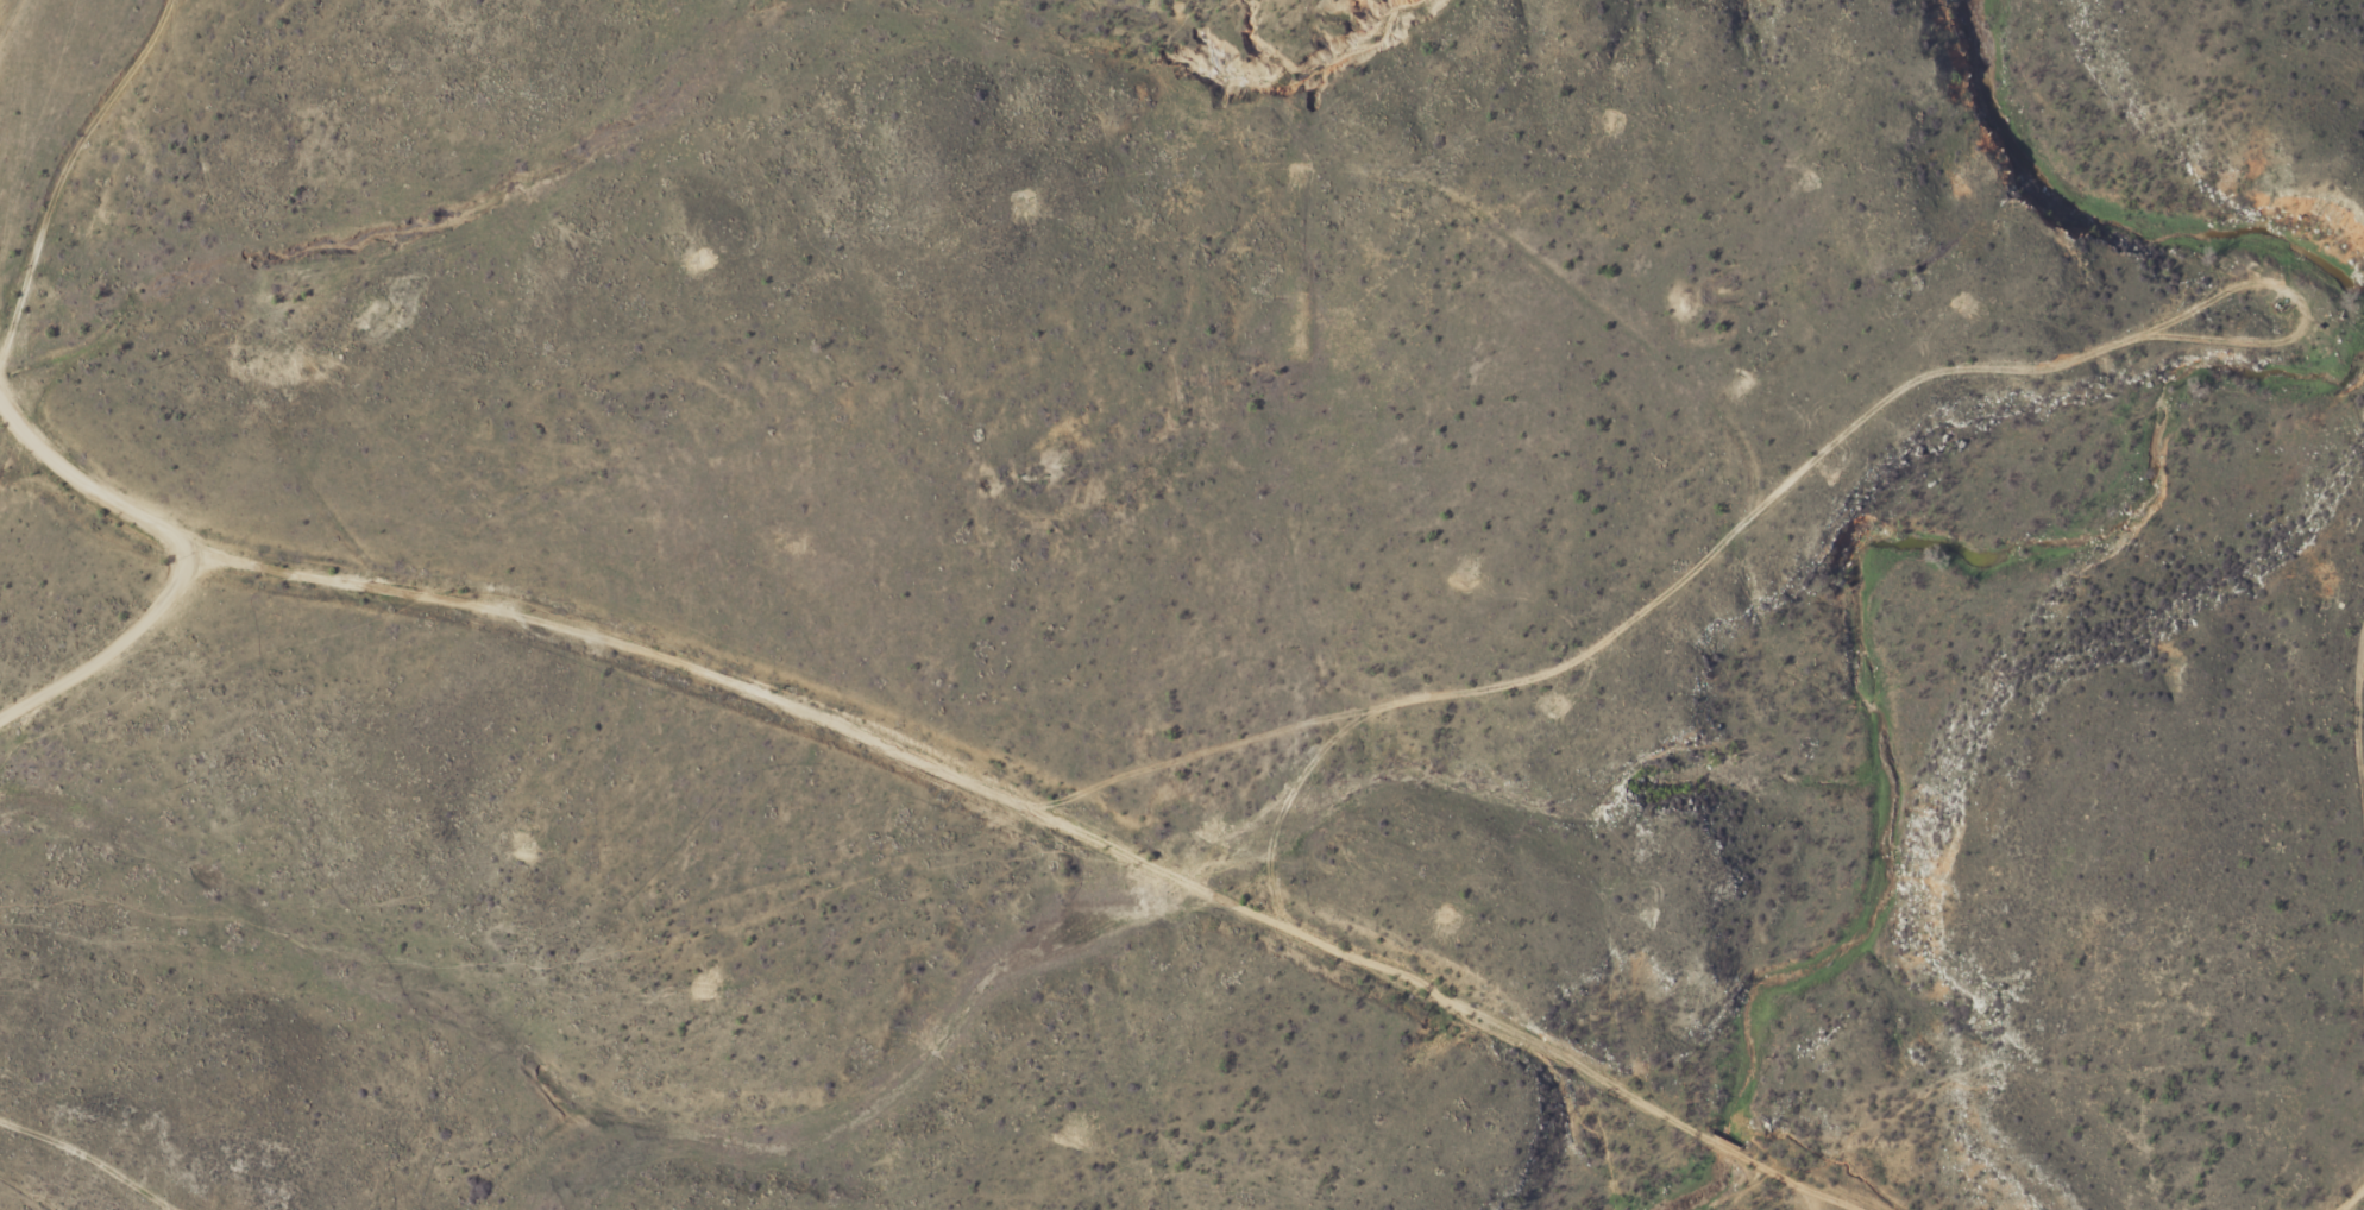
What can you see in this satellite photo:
road: (2356, 1204)

